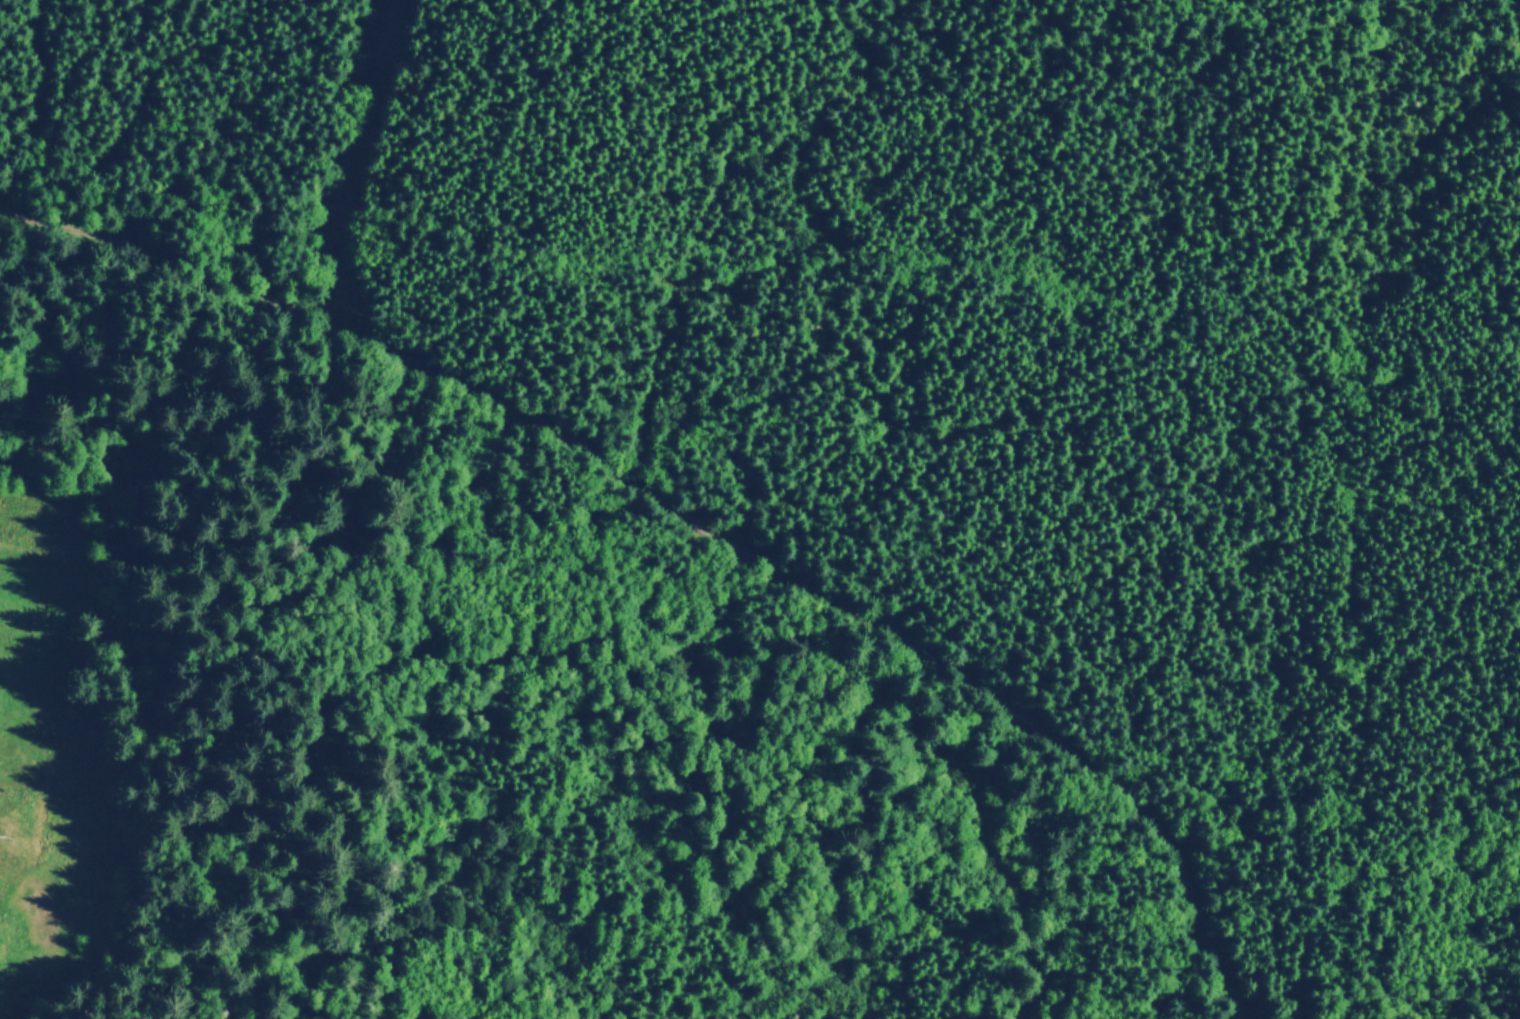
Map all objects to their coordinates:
road: (379, 147)
road: (721, 481)

